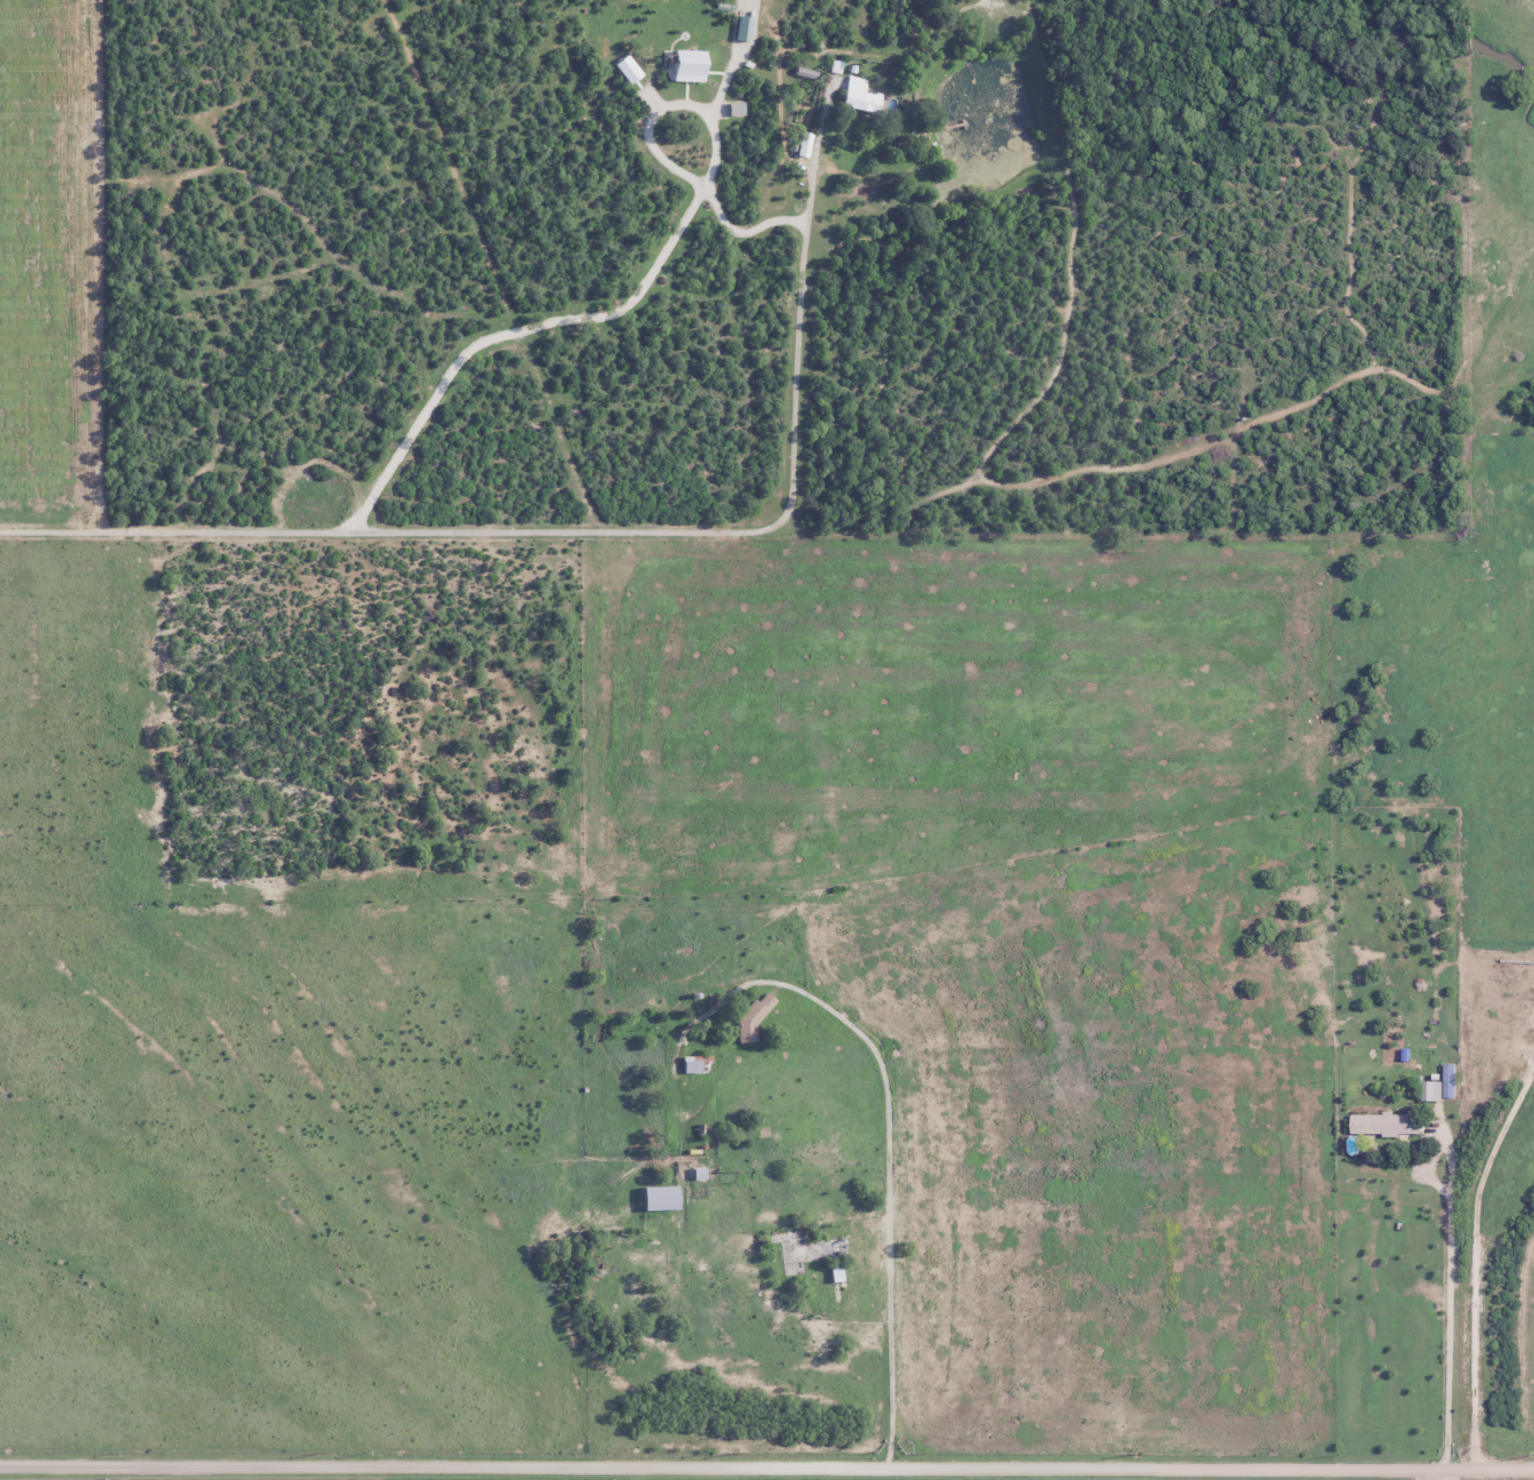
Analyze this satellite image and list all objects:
building: (861, 98)
building: (804, 145)
road: (664, 253)
road: (584, 530)
building: (693, 1066)
building: (1432, 1091)
building: (1395, 1125)
road: (893, 1147)
building: (662, 1200)
building: (840, 1258)
road: (1448, 1278)
road: (1247, 1335)
road: (1482, 1345)
road: (767, 1468)
road: (1434, 1476)
power tower: (105, 1479)

